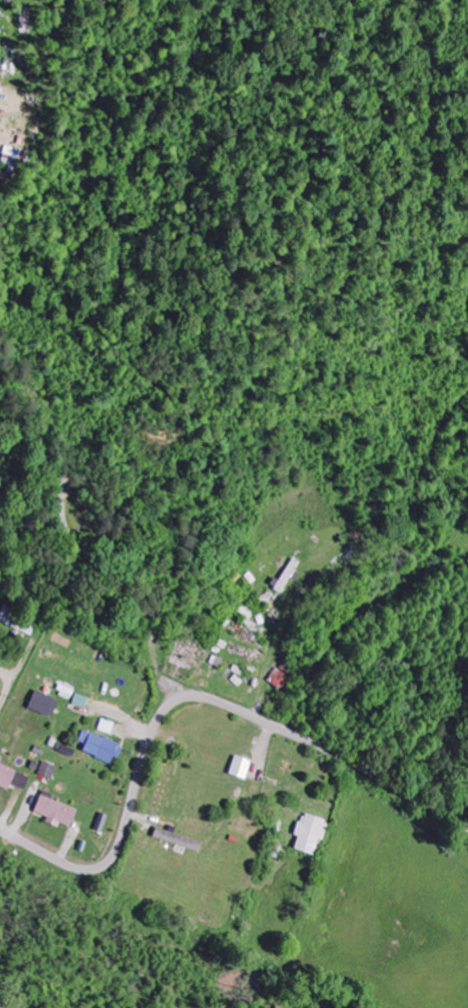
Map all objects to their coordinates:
building: (19, 622)
building: (281, 680)
road: (186, 698)
building: (83, 702)
building: (46, 705)
building: (102, 748)
building: (242, 768)
building: (49, 771)
building: (12, 777)
building: (58, 812)
building: (312, 834)
building: (180, 841)

